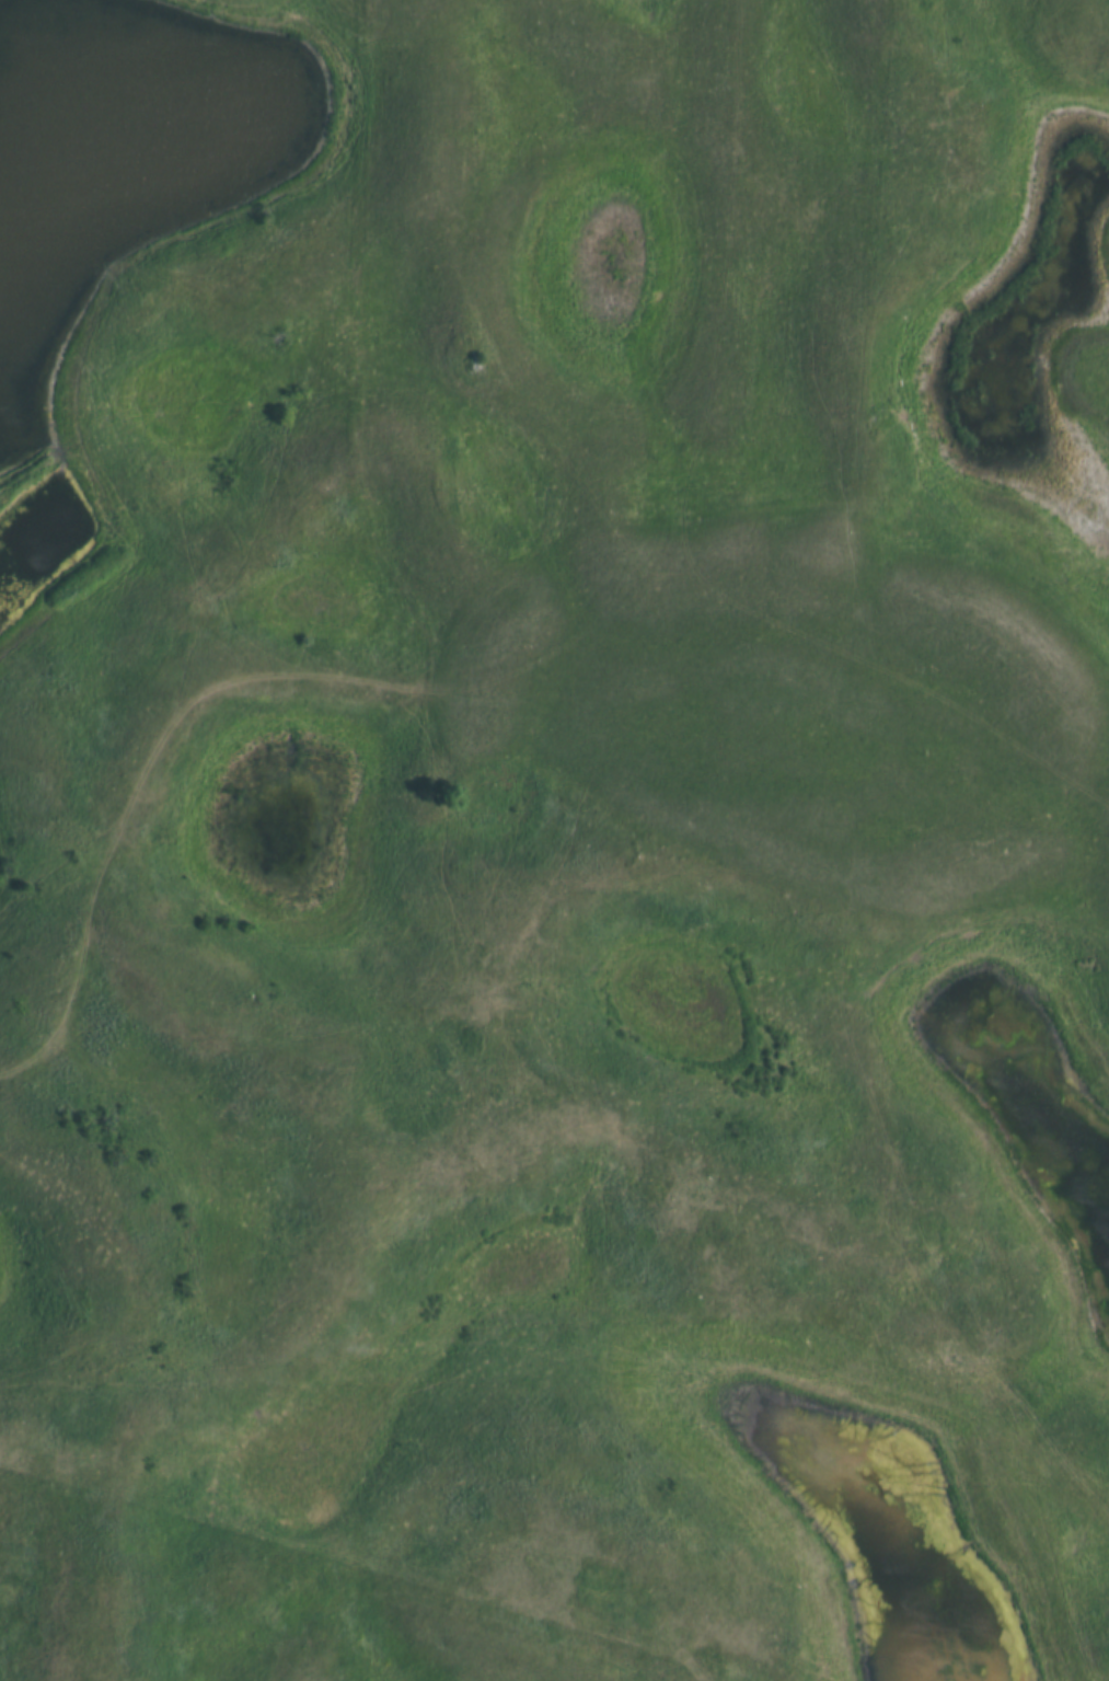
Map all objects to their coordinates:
road: (4, 1669)

